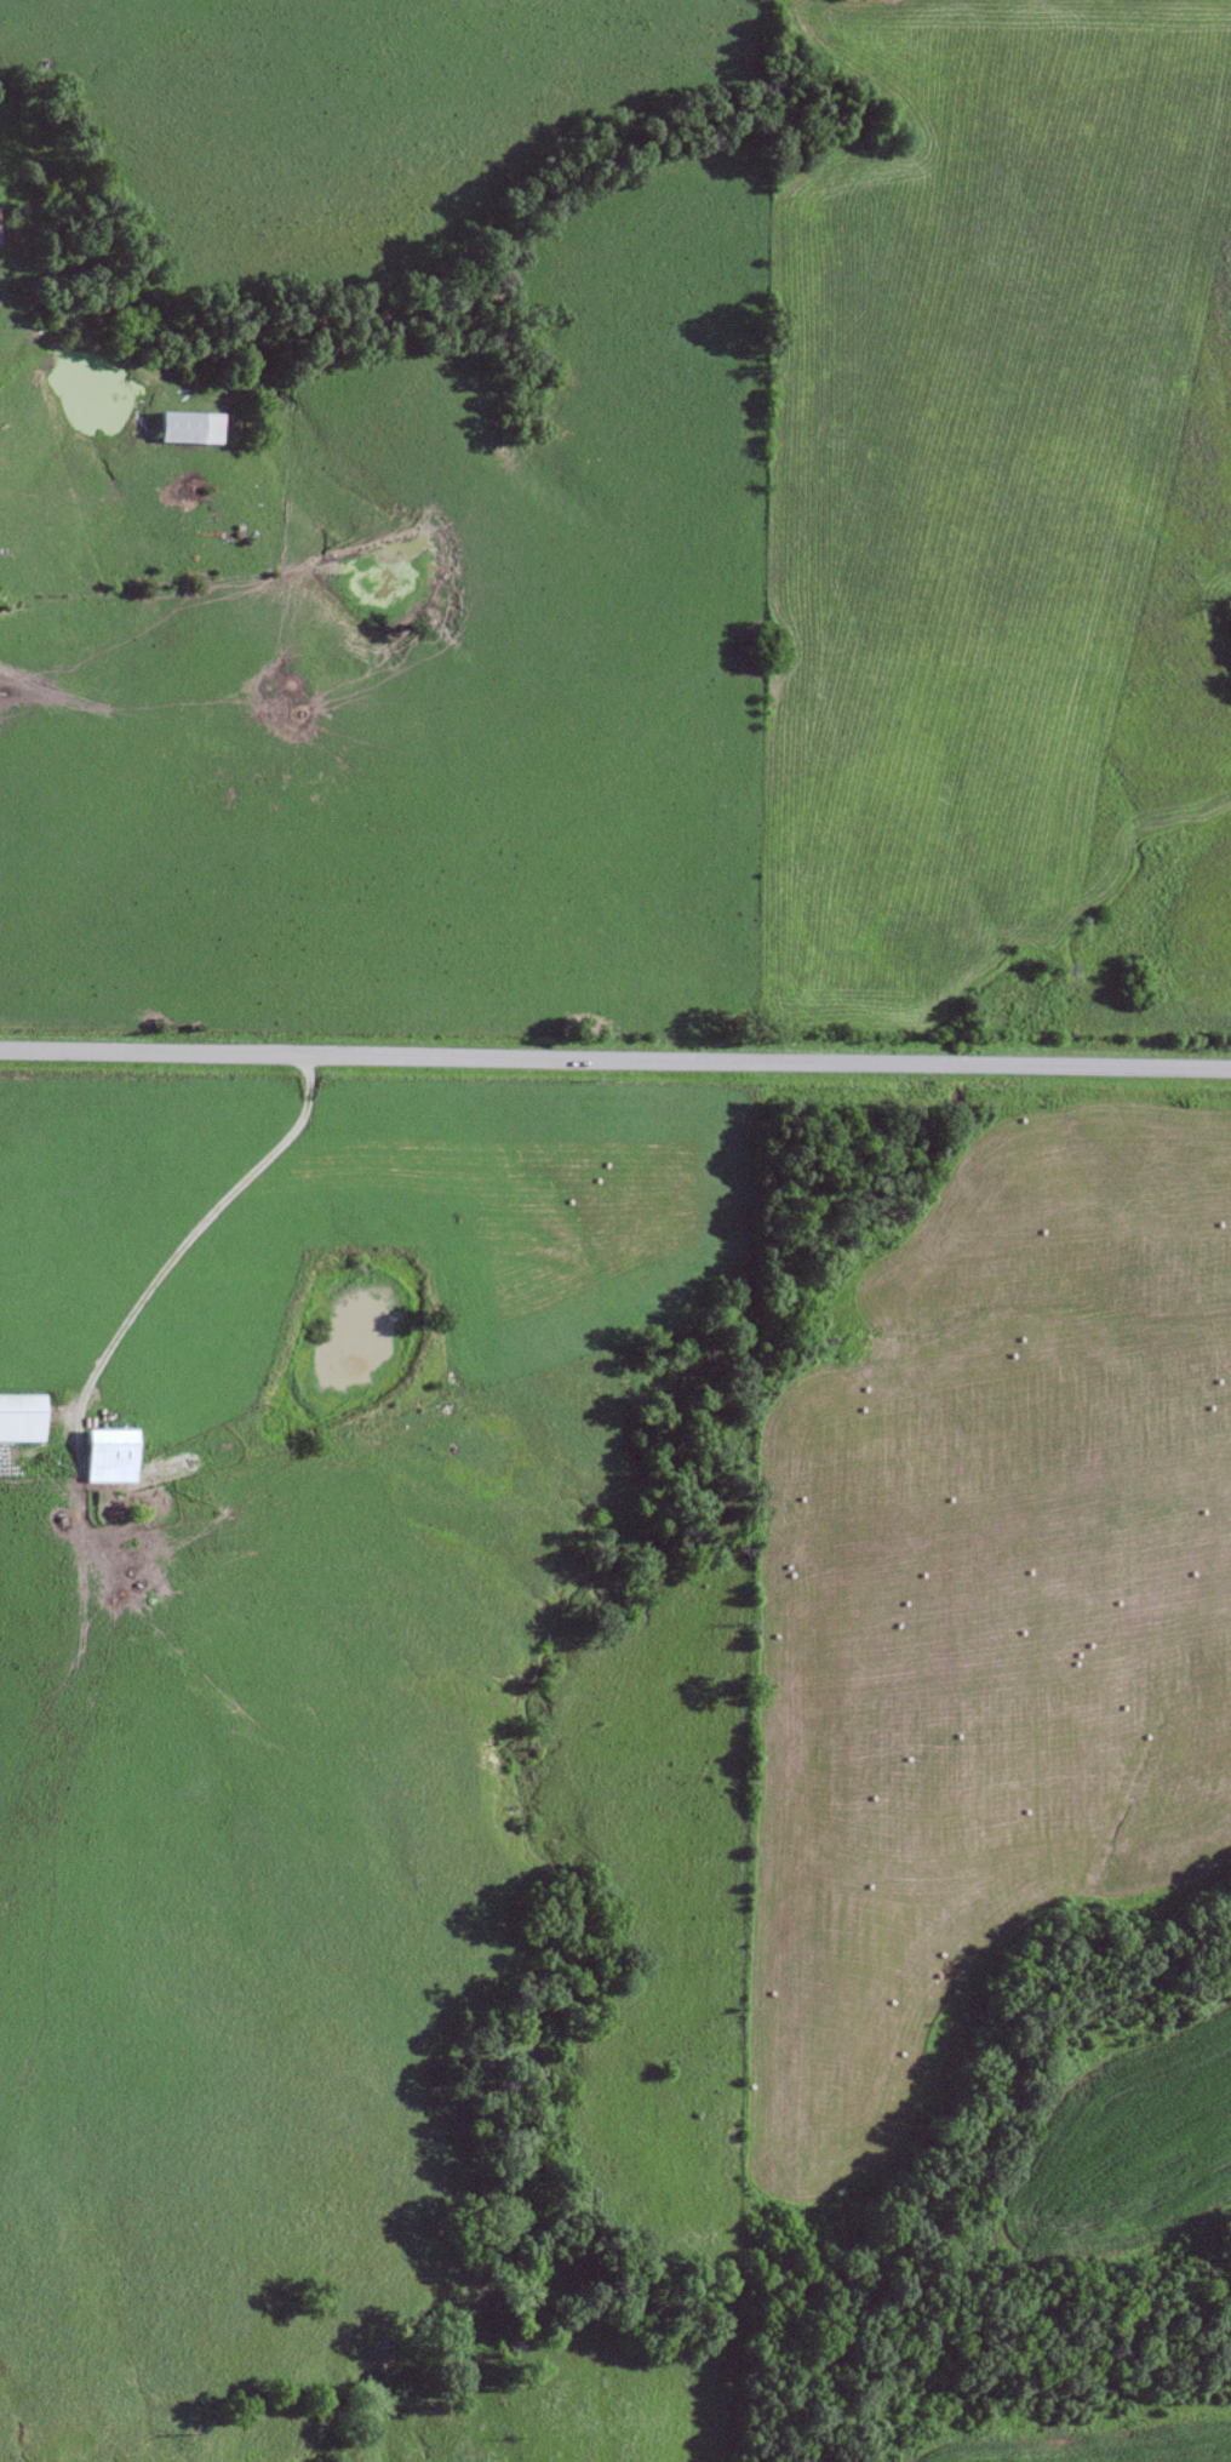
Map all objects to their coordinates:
building: (0, 230)
building: (190, 427)
road: (614, 1063)
road: (171, 1263)
building: (21, 1419)
building: (111, 1456)

